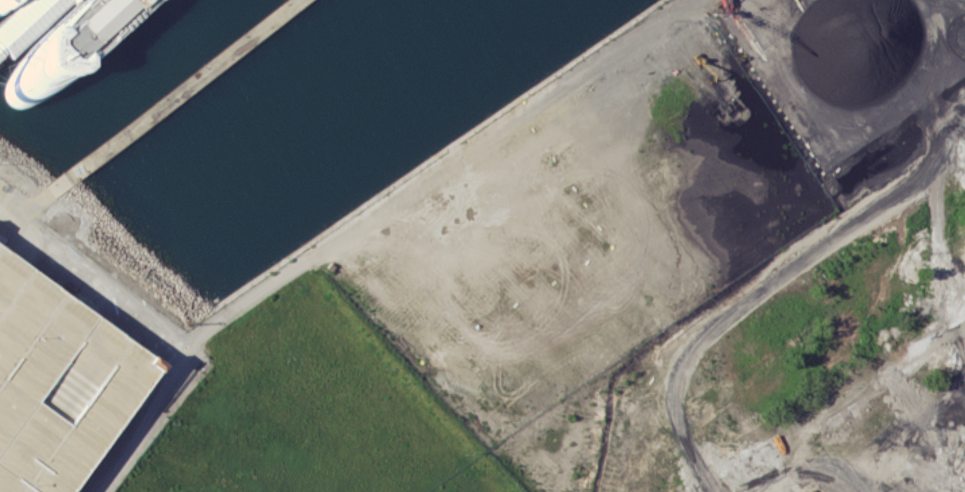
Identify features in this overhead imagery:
building: (87, 21)
pier: (27, 25)
pier: (192, 92)
road: (184, 356)
building: (56, 383)
parking garage: (56, 383)
building: (798, 491)

